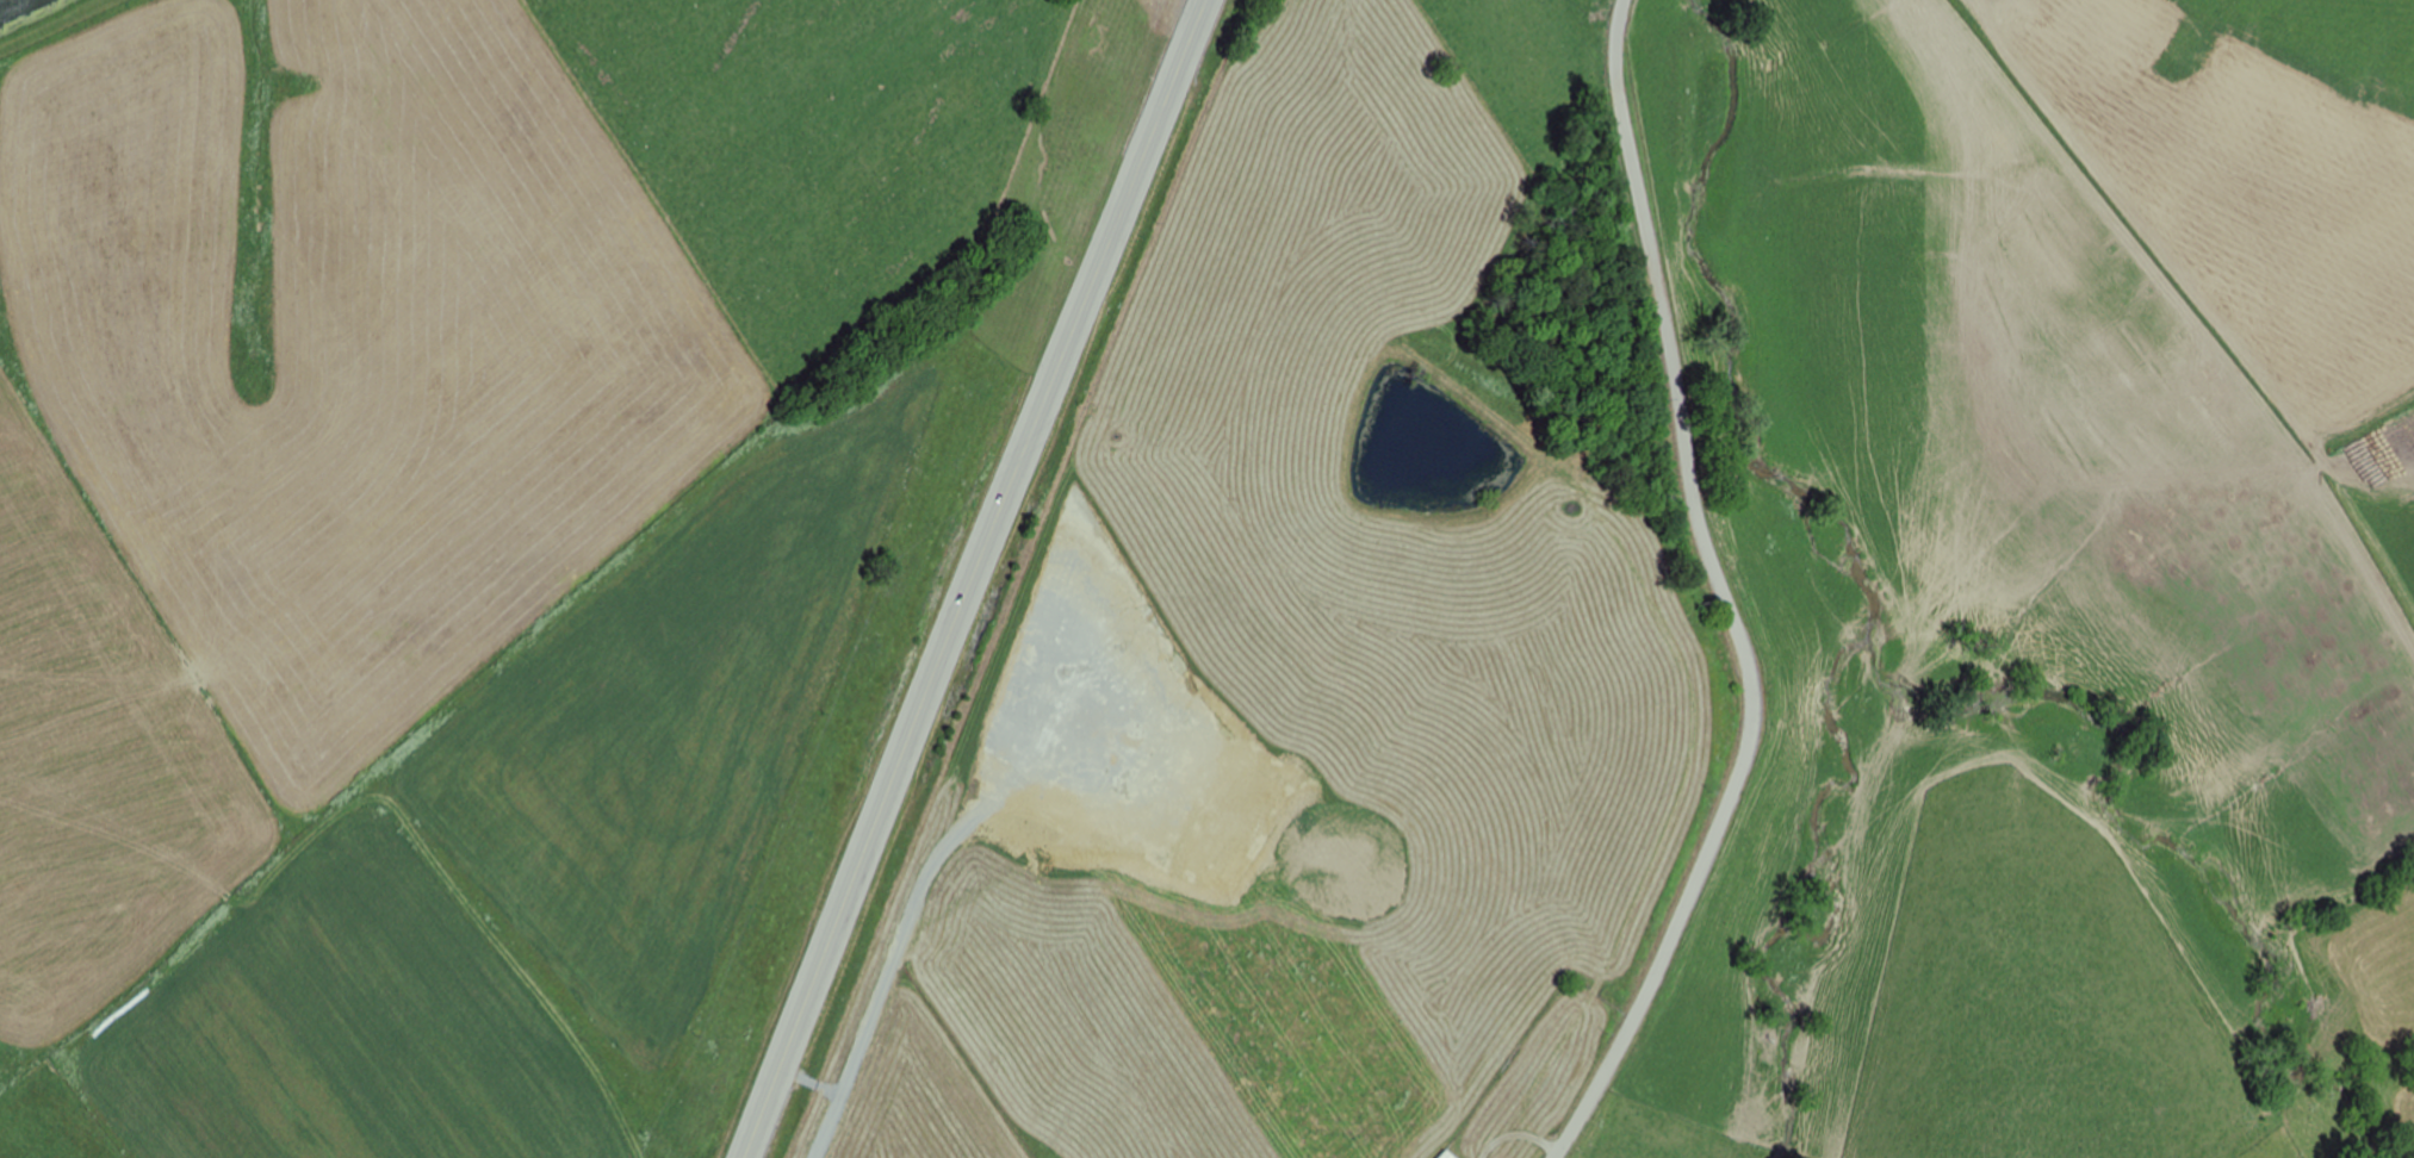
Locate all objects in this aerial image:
road: (973, 579)
road: (1725, 597)
building: (1447, 1154)

